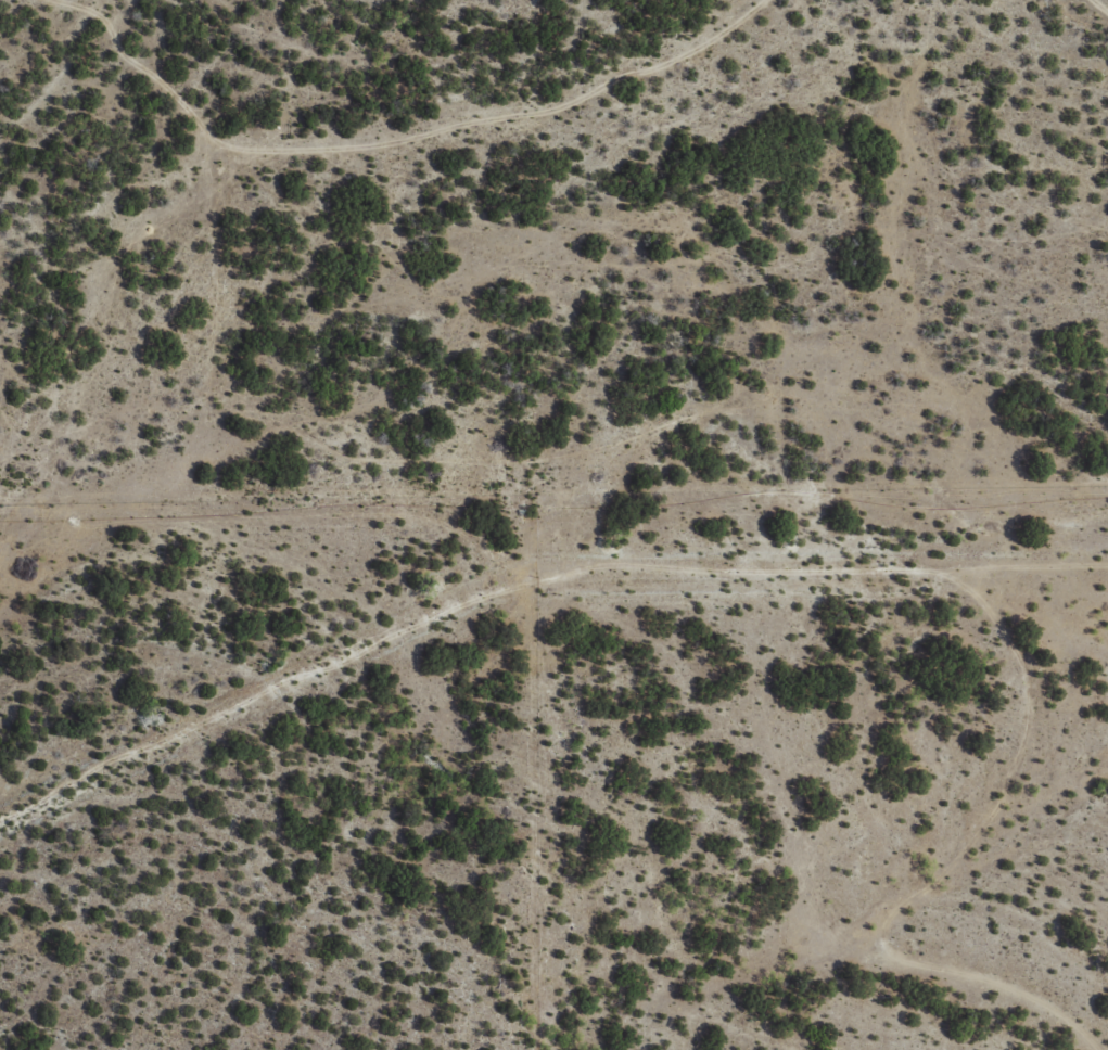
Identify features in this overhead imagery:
road: (524, 564)
road: (925, 842)

